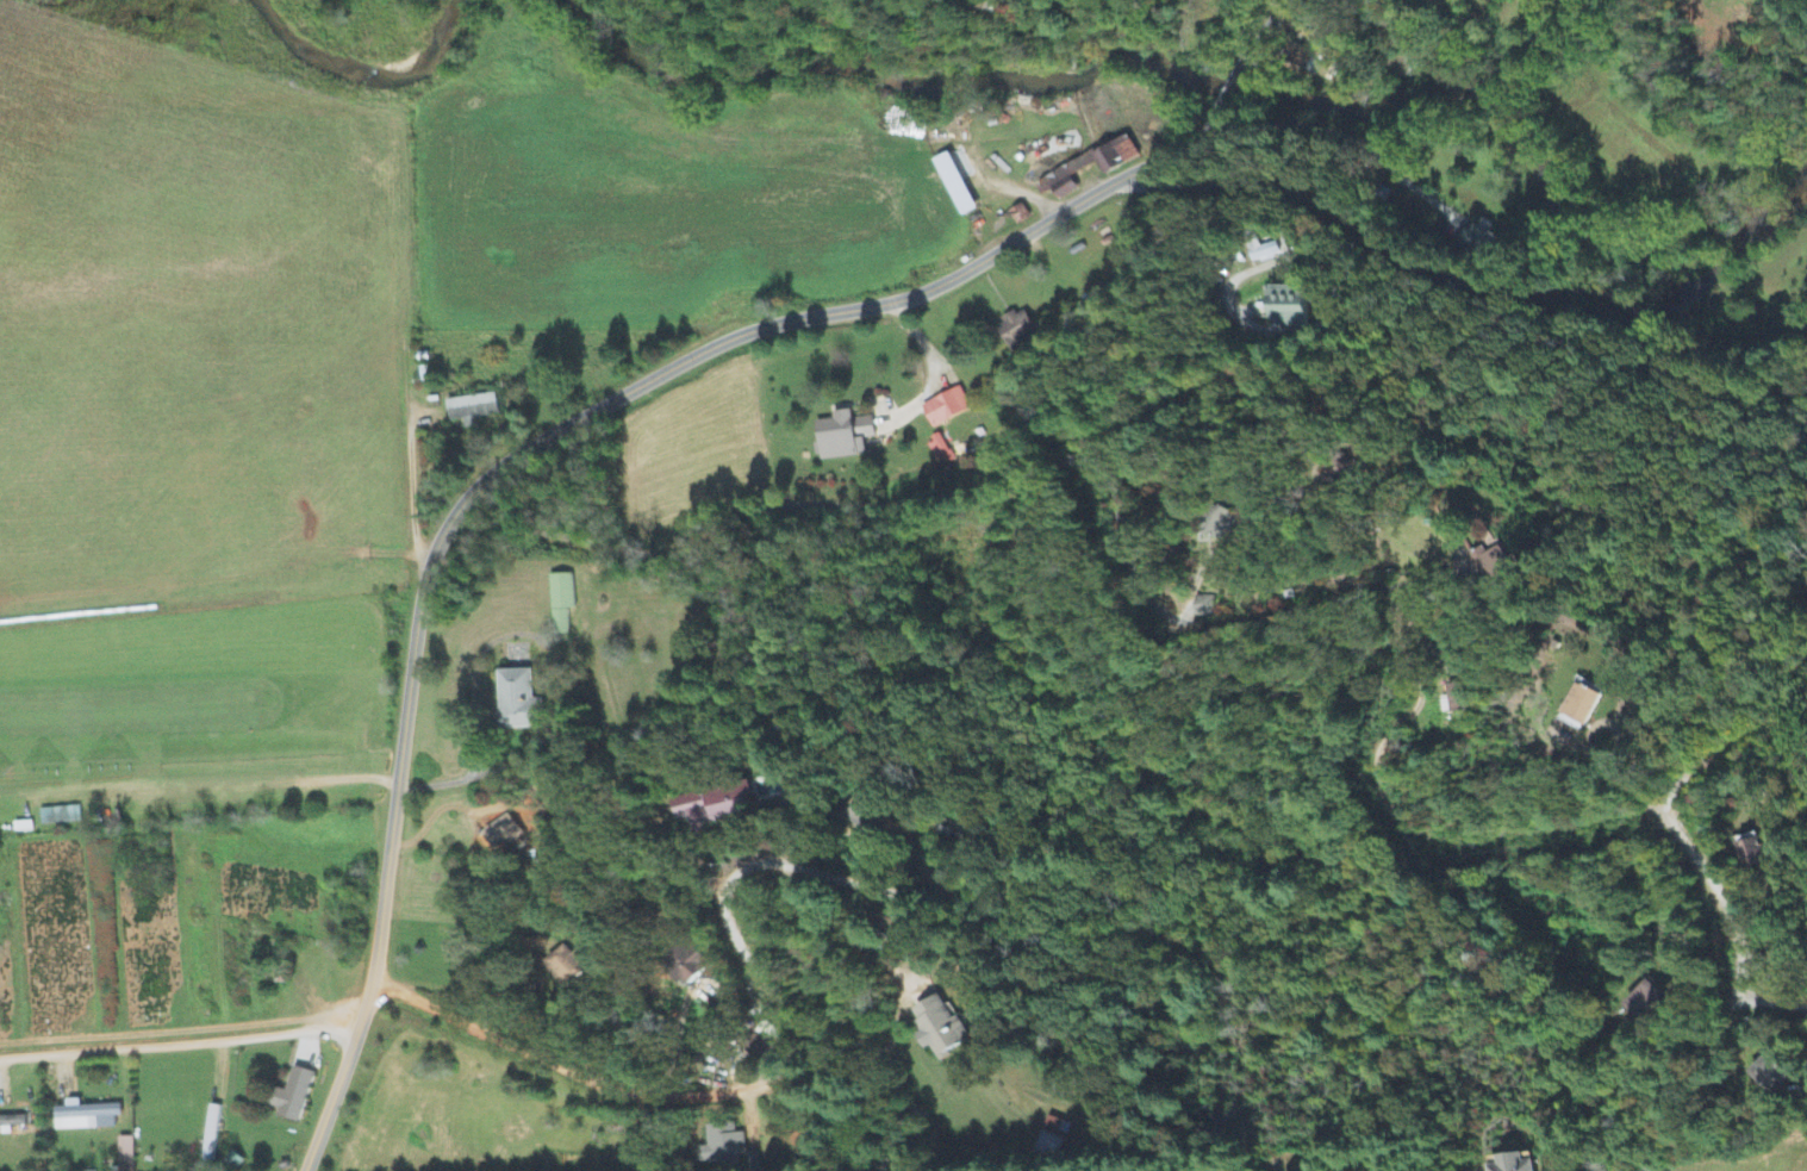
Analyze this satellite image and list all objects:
road: (1264, 30)
building: (1296, 55)
road: (1232, 89)
building: (1114, 156)
building: (954, 186)
building: (1055, 186)
building: (1476, 242)
building: (1261, 250)
road: (1458, 278)
building: (1285, 307)
building: (1015, 329)
building: (943, 407)
building: (471, 409)
building: (841, 436)
road: (523, 449)
building: (937, 451)
road: (986, 484)
building: (1219, 524)
building: (1488, 562)
building: (559, 603)
building: (1203, 606)
building: (516, 699)
building: (1452, 699)
building: (1578, 703)
building: (57, 816)
building: (862, 820)
road: (1671, 822)
building: (499, 836)
building: (1753, 852)
road: (1012, 921)
building: (563, 966)
building: (681, 966)
building: (1643, 1003)
building: (937, 1028)
road: (179, 1041)
building: (1768, 1075)
building: (289, 1095)
building: (76, 1117)
building: (11, 1122)
building: (208, 1135)
building: (719, 1146)
building: (123, 1154)
building: (1510, 1164)

